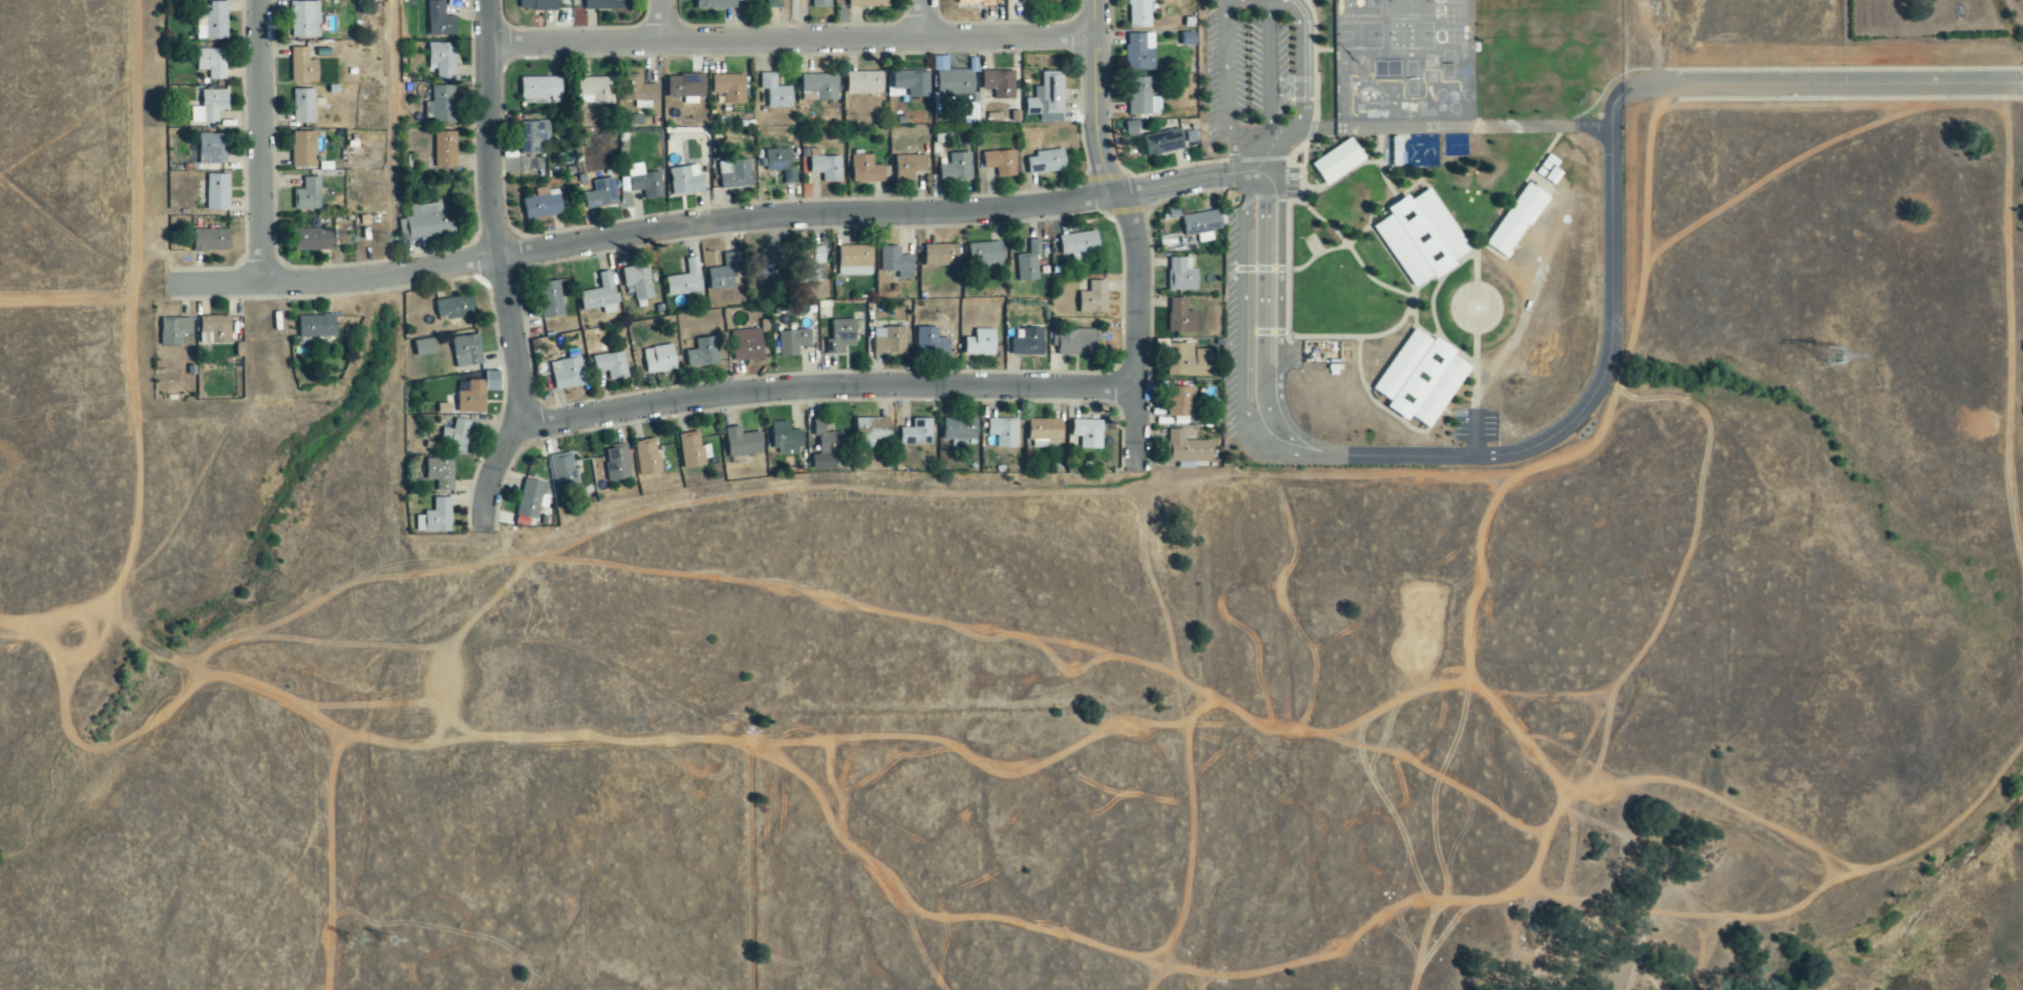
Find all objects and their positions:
building: (1041, 1)
building: (716, 3)
building: (820, 3)
building: (865, 3)
building: (975, 3)
building: (605, 4)
building: (774, 4)
building: (539, 5)
building: (1140, 13)
building: (305, 20)
building: (439, 20)
road: (921, 20)
road: (660, 21)
building: (213, 22)
road: (791, 41)
building: (1141, 51)
road: (1300, 55)
building: (442, 59)
building: (212, 62)
building: (303, 66)
road: (1269, 81)
building: (866, 83)
building: (911, 83)
road: (1803, 83)
building: (999, 84)
building: (957, 85)
building: (821, 86)
building: (686, 87)
building: (541, 88)
building: (729, 88)
road: (1225, 89)
building: (595, 90)
building: (640, 90)
building: (775, 92)
building: (1047, 97)
building: (1142, 97)
building: (442, 104)
building: (210, 106)
building: (305, 106)
building: (1131, 129)
building: (533, 136)
road: (260, 142)
building: (1163, 142)
building: (213, 147)
building: (303, 149)
building: (445, 150)
building: (1394, 152)
building: (1338, 161)
building: (1047, 162)
building: (1000, 163)
building: (778, 164)
building: (909, 164)
building: (825, 166)
building: (956, 168)
building: (867, 170)
building: (735, 174)
building: (685, 180)
building: (646, 184)
road: (1168, 186)
building: (218, 192)
building: (601, 194)
building: (308, 195)
building: (543, 203)
building: (1518, 220)
building: (427, 222)
road: (1133, 231)
road: (644, 232)
building: (1422, 238)
power tower: (351, 239)
power tower: (387, 239)
building: (211, 240)
building: (312, 240)
building: (1079, 244)
building: (985, 253)
building: (819, 255)
building: (941, 255)
building: (769, 260)
building: (855, 261)
building: (896, 262)
building: (1029, 262)
road: (502, 265)
building: (724, 272)
building: (1181, 275)
building: (685, 281)
building: (638, 282)
building: (601, 296)
building: (1094, 298)
building: (552, 299)
building: (456, 307)
building: (1181, 316)
building: (316, 327)
building: (174, 330)
building: (215, 330)
building: (843, 335)
building: (890, 341)
building: (793, 342)
building: (931, 342)
building: (1074, 342)
building: (981, 343)
building: (1028, 343)
building: (747, 345)
building: (425, 347)
building: (466, 350)
building: (705, 352)
building: (659, 359)
power tower: (1837, 359)
building: (1189, 361)
road: (1607, 361)
building: (611, 365)
building: (567, 371)
building: (1422, 379)
road: (825, 386)
building: (471, 397)
building: (1181, 402)
building: (960, 430)
building: (870, 431)
building: (1044, 432)
building: (917, 433)
building: (1004, 433)
building: (1088, 433)
building: (456, 436)
building: (786, 438)
building: (742, 442)
building: (826, 447)
building: (1187, 448)
building: (693, 451)
building: (648, 458)
building: (617, 463)
building: (561, 467)
building: (441, 473)
building: (530, 499)
building: (436, 518)
power tower: (353, 941)
power tower: (387, 941)

